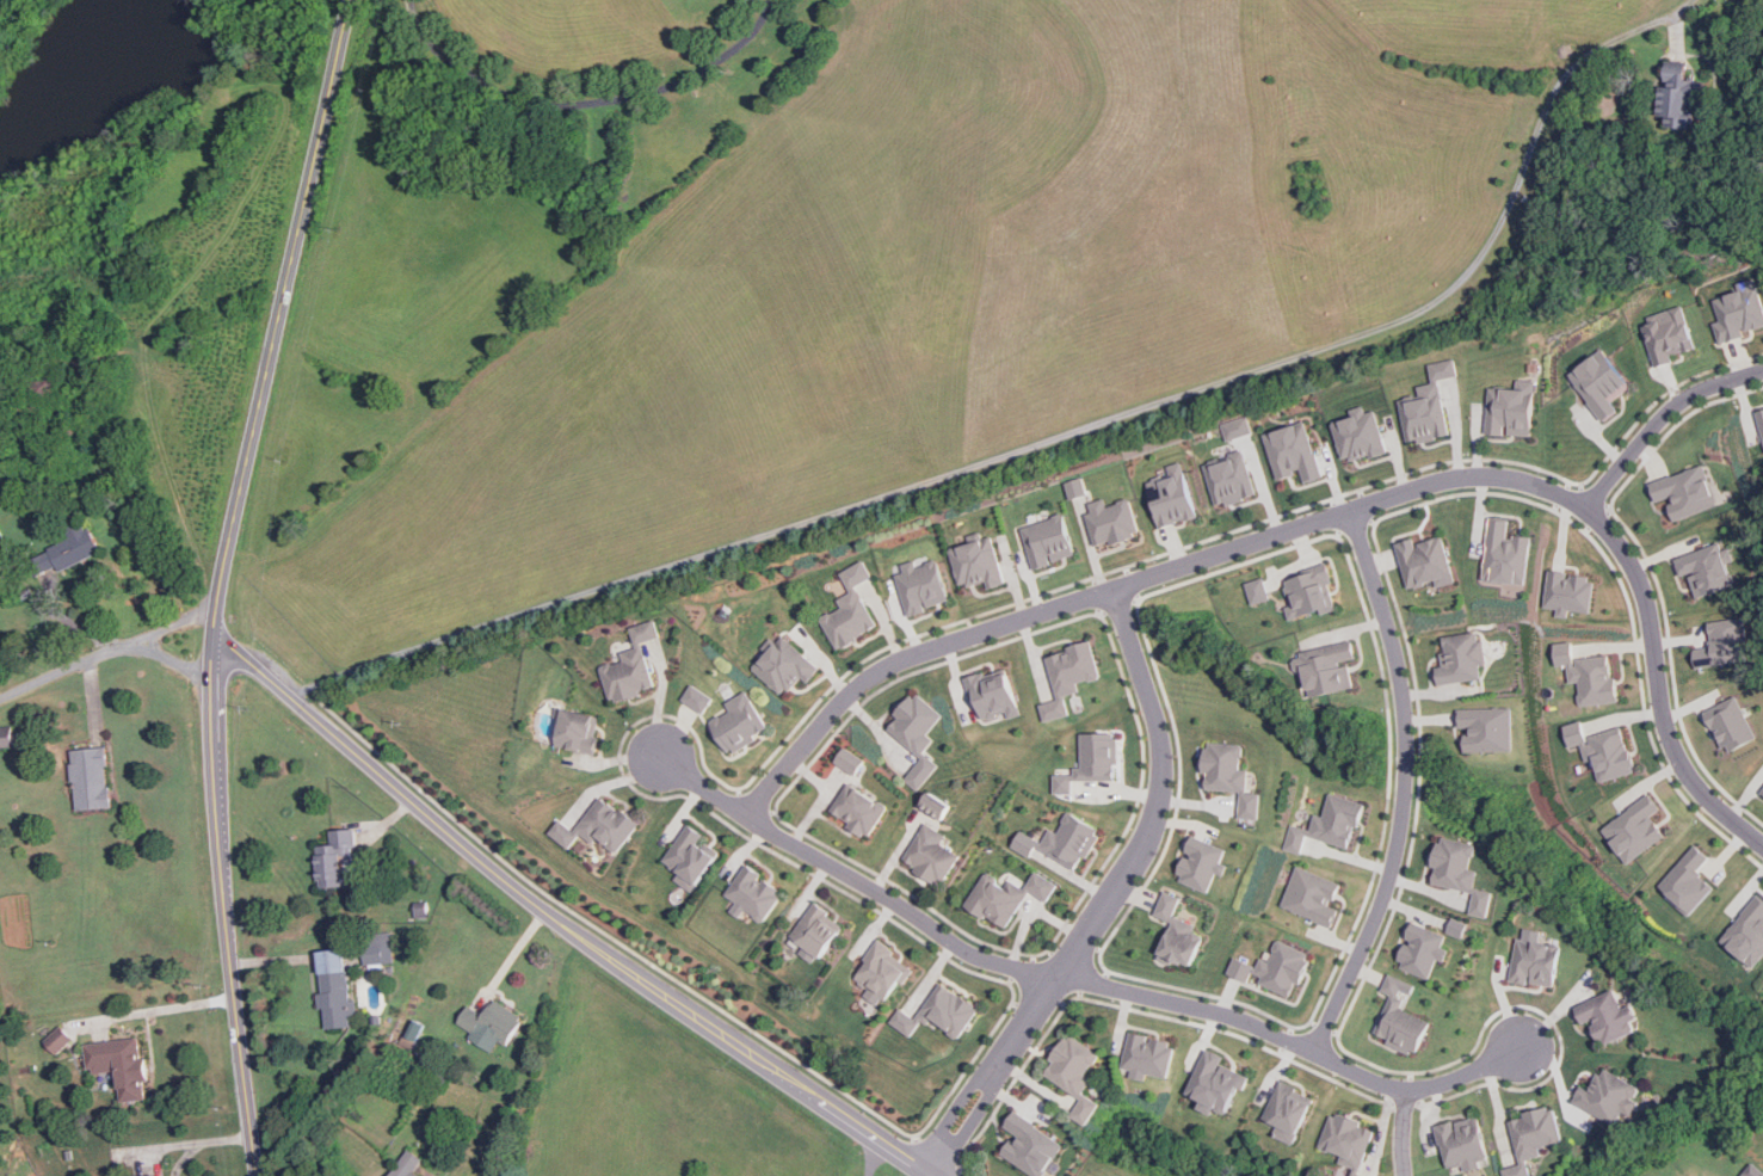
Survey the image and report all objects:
building: (1679, 96)
road: (588, 101)
building: (1738, 310)
building: (1668, 334)
building: (1599, 382)
building: (1426, 405)
building: (1511, 410)
road: (1658, 415)
building: (1759, 419)
building: (1235, 427)
building: (1358, 433)
road: (1050, 436)
building: (1292, 451)
building: (1229, 479)
building: (1684, 491)
building: (1171, 495)
building: (1102, 515)
road: (1327, 521)
building: (1047, 541)
building: (67, 552)
building: (1506, 553)
building: (976, 561)
building: (1425, 561)
building: (1708, 568)
road: (221, 581)
building: (920, 585)
building: (1257, 590)
building: (1309, 591)
building: (1568, 592)
building: (849, 609)
building: (1725, 642)
road: (104, 654)
building: (1461, 657)
building: (784, 665)
building: (633, 667)
building: (1329, 667)
building: (1588, 673)
building: (1069, 676)
building: (993, 692)
building: (698, 697)
building: (740, 722)
building: (1732, 724)
building: (1487, 728)
building: (579, 732)
building: (917, 734)
building: (7, 738)
building: (1602, 749)
building: (850, 759)
building: (1091, 761)
building: (1231, 774)
building: (91, 778)
road: (1405, 786)
building: (1762, 792)
building: (936, 805)
building: (858, 808)
building: (1329, 823)
building: (599, 825)
building: (1635, 829)
building: (1062, 842)
building: (932, 854)
building: (691, 857)
building: (335, 858)
building: (1202, 863)
building: (1461, 872)
building: (1688, 881)
building: (754, 894)
road: (1110, 894)
building: (1007, 895)
building: (1312, 895)
road: (562, 923)
building: (1459, 926)
building: (818, 929)
building: (1177, 932)
building: (1747, 932)
building: (378, 949)
building: (1423, 949)
building: (1536, 961)
building: (1275, 967)
building: (884, 971)
road: (1073, 977)
building: (334, 987)
building: (939, 1012)
building: (1401, 1016)
building: (1608, 1016)
building: (492, 1023)
building: (58, 1040)
building: (1148, 1055)
building: (121, 1065)
building: (1075, 1072)
building: (1216, 1083)
building: (1610, 1096)
building: (1289, 1110)
road: (1404, 1132)
building: (1534, 1137)
road: (191, 1138)
building: (1349, 1141)
building: (1465, 1143)
building: (1031, 1145)
road: (869, 1153)
road: (181, 1156)
building: (407, 1164)
building: (1755, 1171)
building: (154, 1175)

